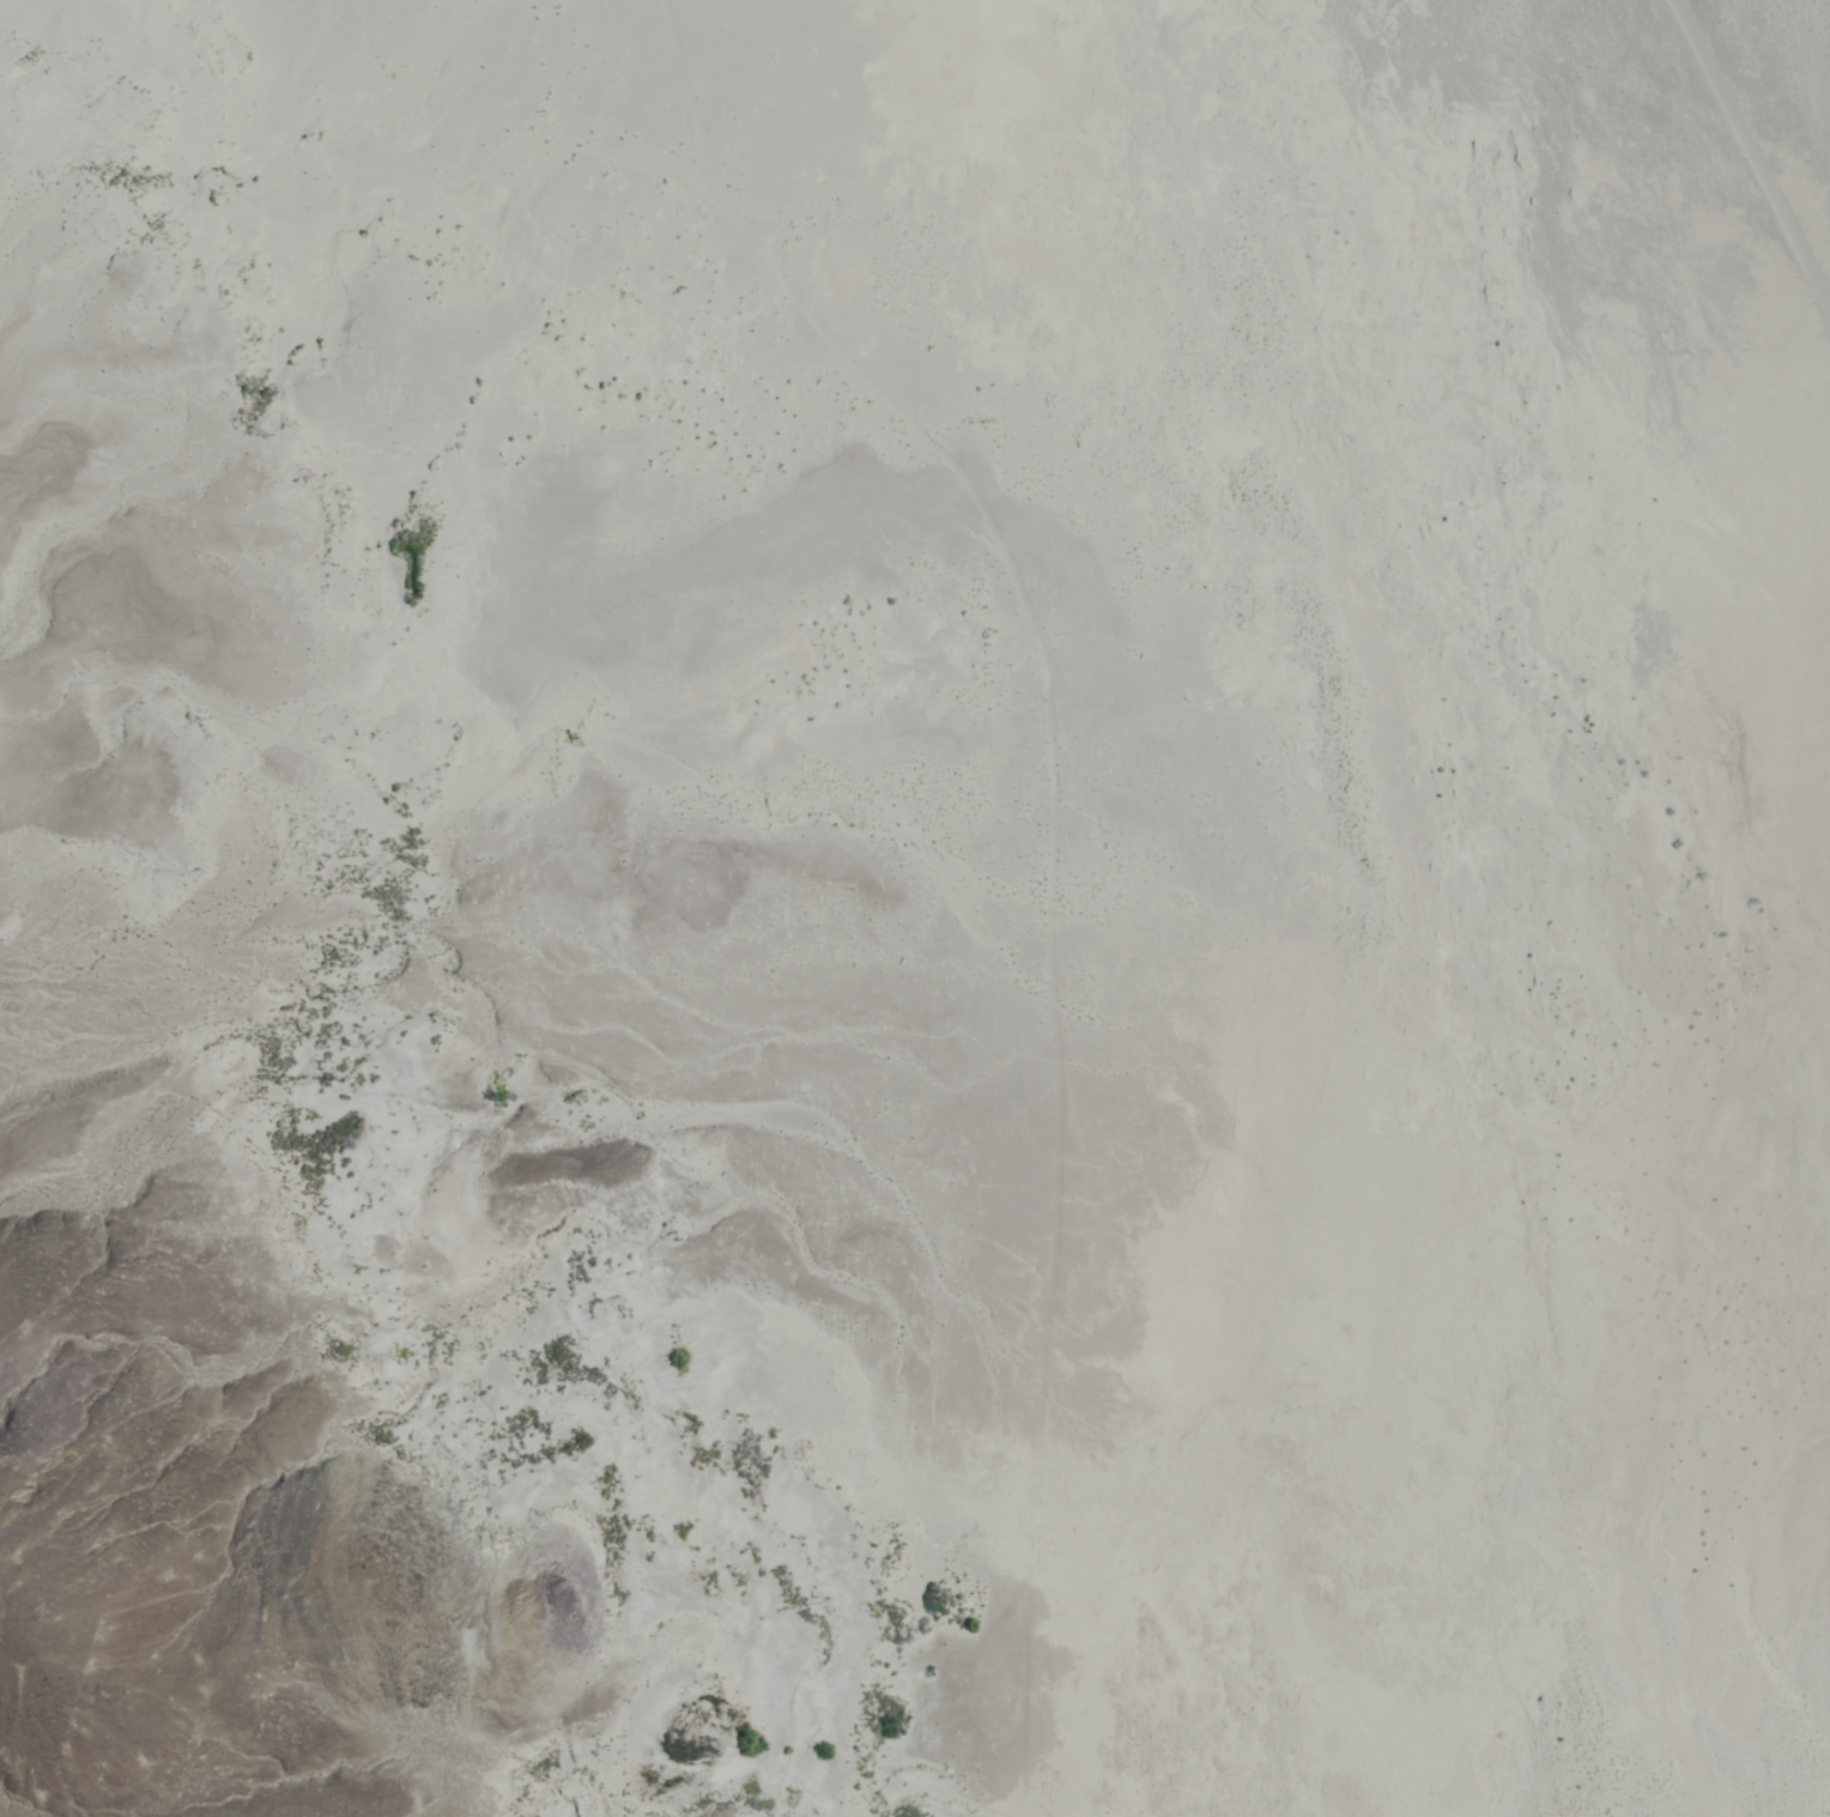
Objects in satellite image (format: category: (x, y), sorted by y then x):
road: (1755, 140)

